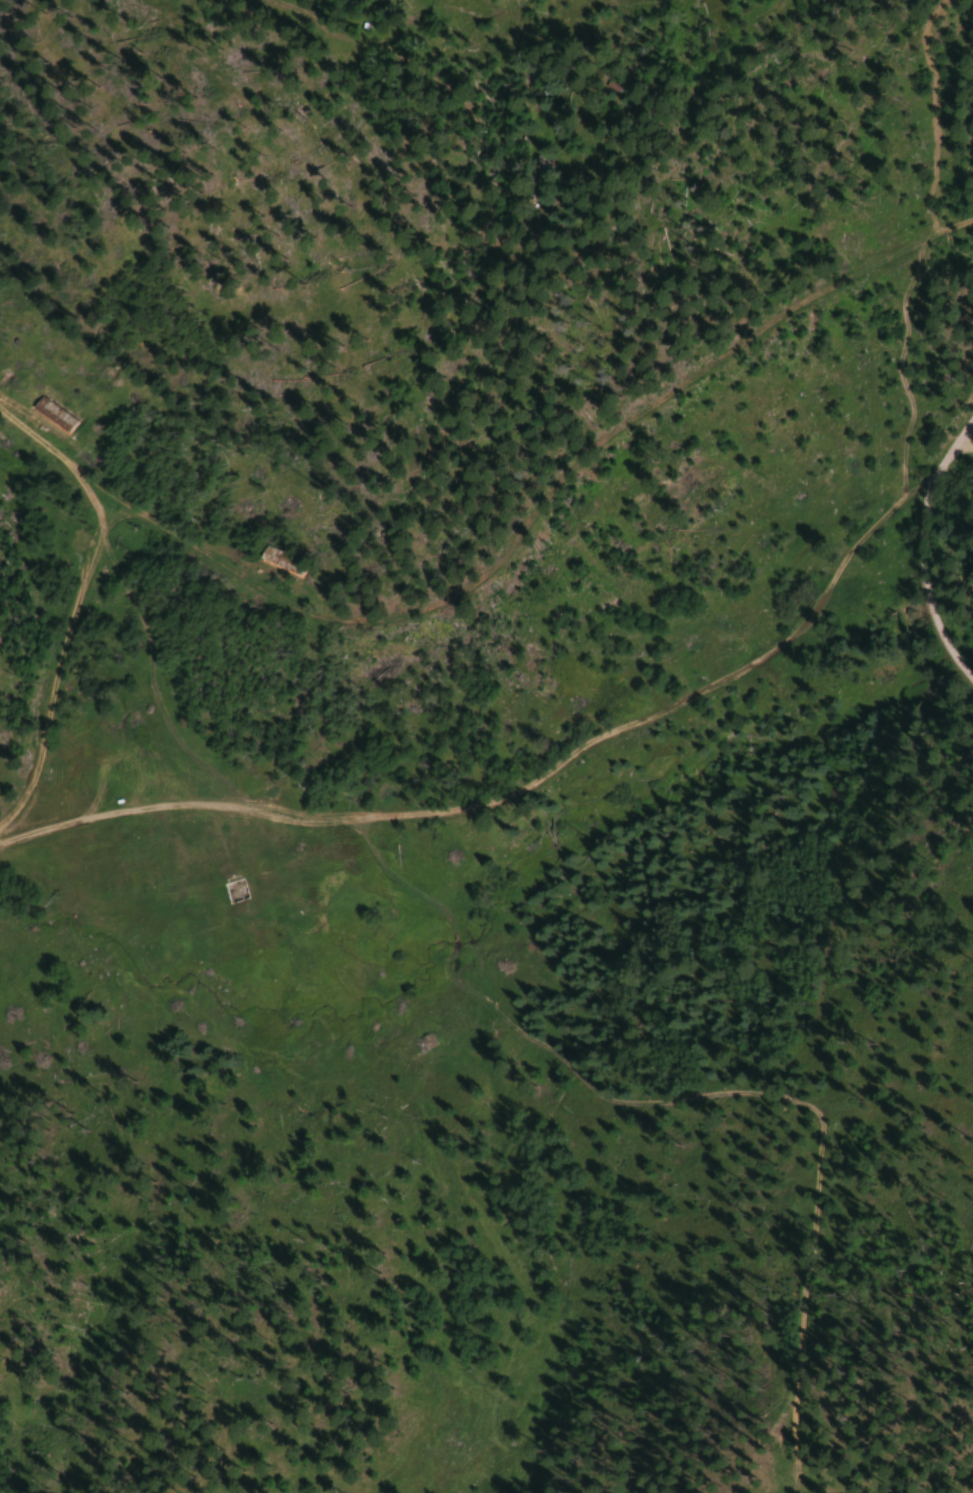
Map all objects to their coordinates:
road: (914, 248)
road: (965, 432)
road: (965, 445)
building: (276, 560)
road: (922, 566)
road: (81, 603)
road: (515, 790)
building: (235, 890)

